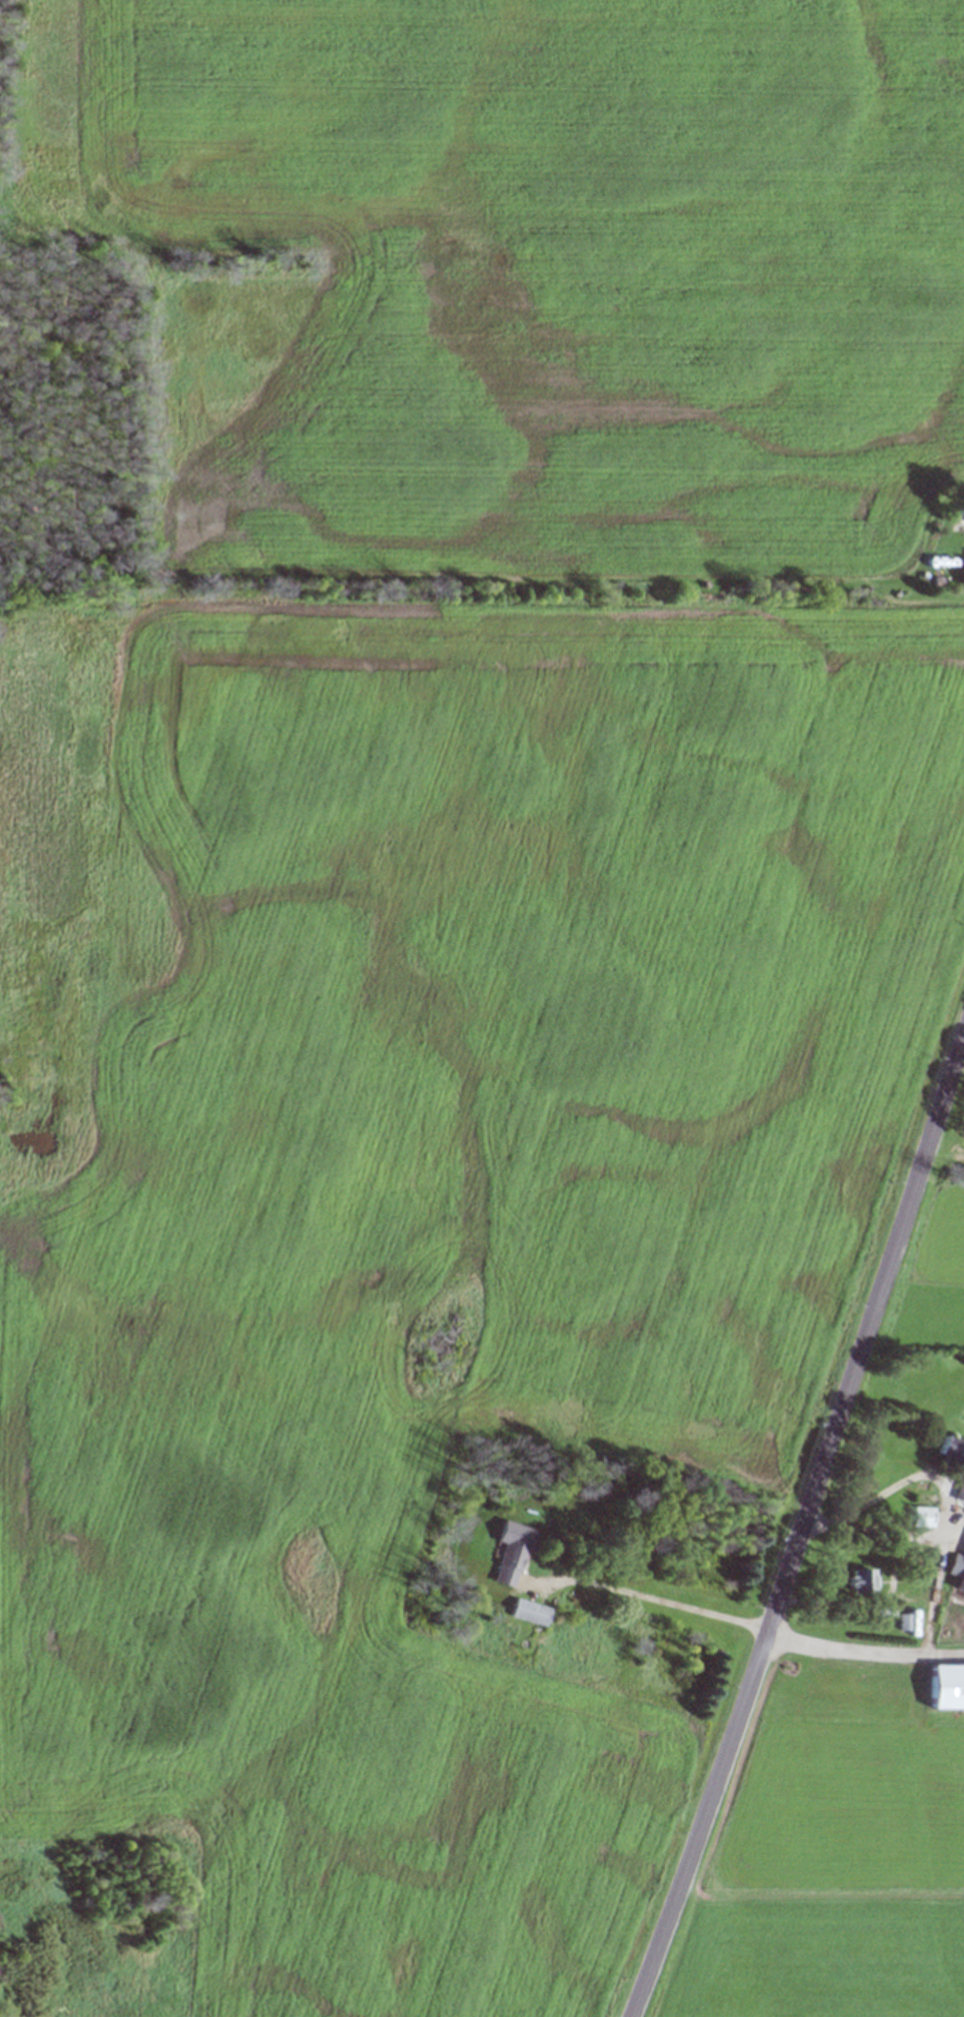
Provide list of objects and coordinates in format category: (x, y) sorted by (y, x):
building: (962, 515)
building: (960, 1481)
building: (586, 1514)
road: (799, 1525)
road: (883, 1531)
building: (959, 1577)
building: (857, 1580)
building: (524, 1611)
building: (906, 1622)
road: (862, 1651)
building: (945, 1686)

